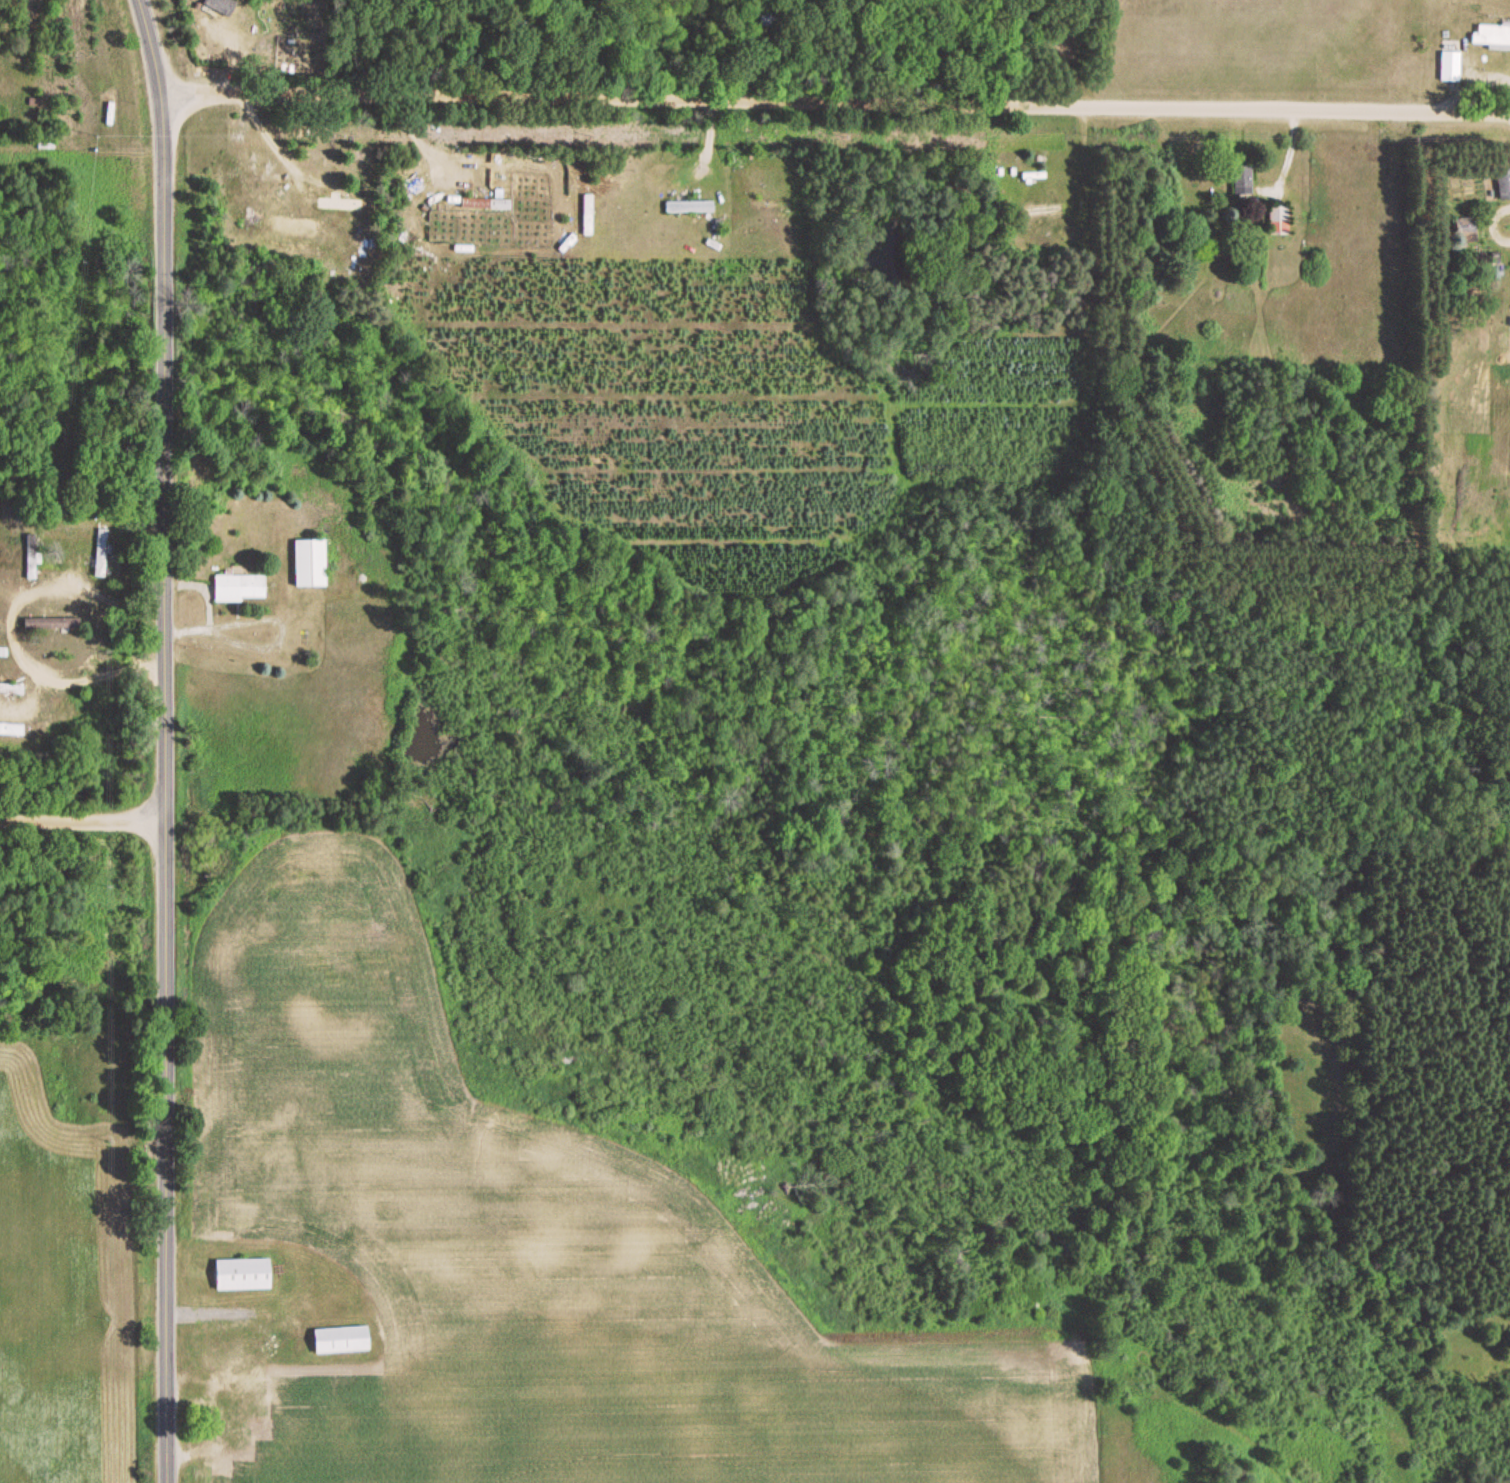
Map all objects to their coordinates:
building: (216, 7)
building: (1491, 38)
building: (1447, 62)
road: (837, 105)
building: (1237, 179)
building: (1502, 186)
building: (336, 205)
building: (482, 206)
building: (771, 206)
building: (687, 209)
building: (1274, 222)
building: (1463, 232)
building: (107, 554)
building: (316, 564)
building: (35, 566)
building: (245, 588)
building: (48, 624)
building: (6, 652)
building: (13, 688)
building: (13, 728)
road: (162, 739)
road: (82, 821)
crop: (545, 1236)
building: (238, 1275)
building: (335, 1340)
building: (234, 1407)

